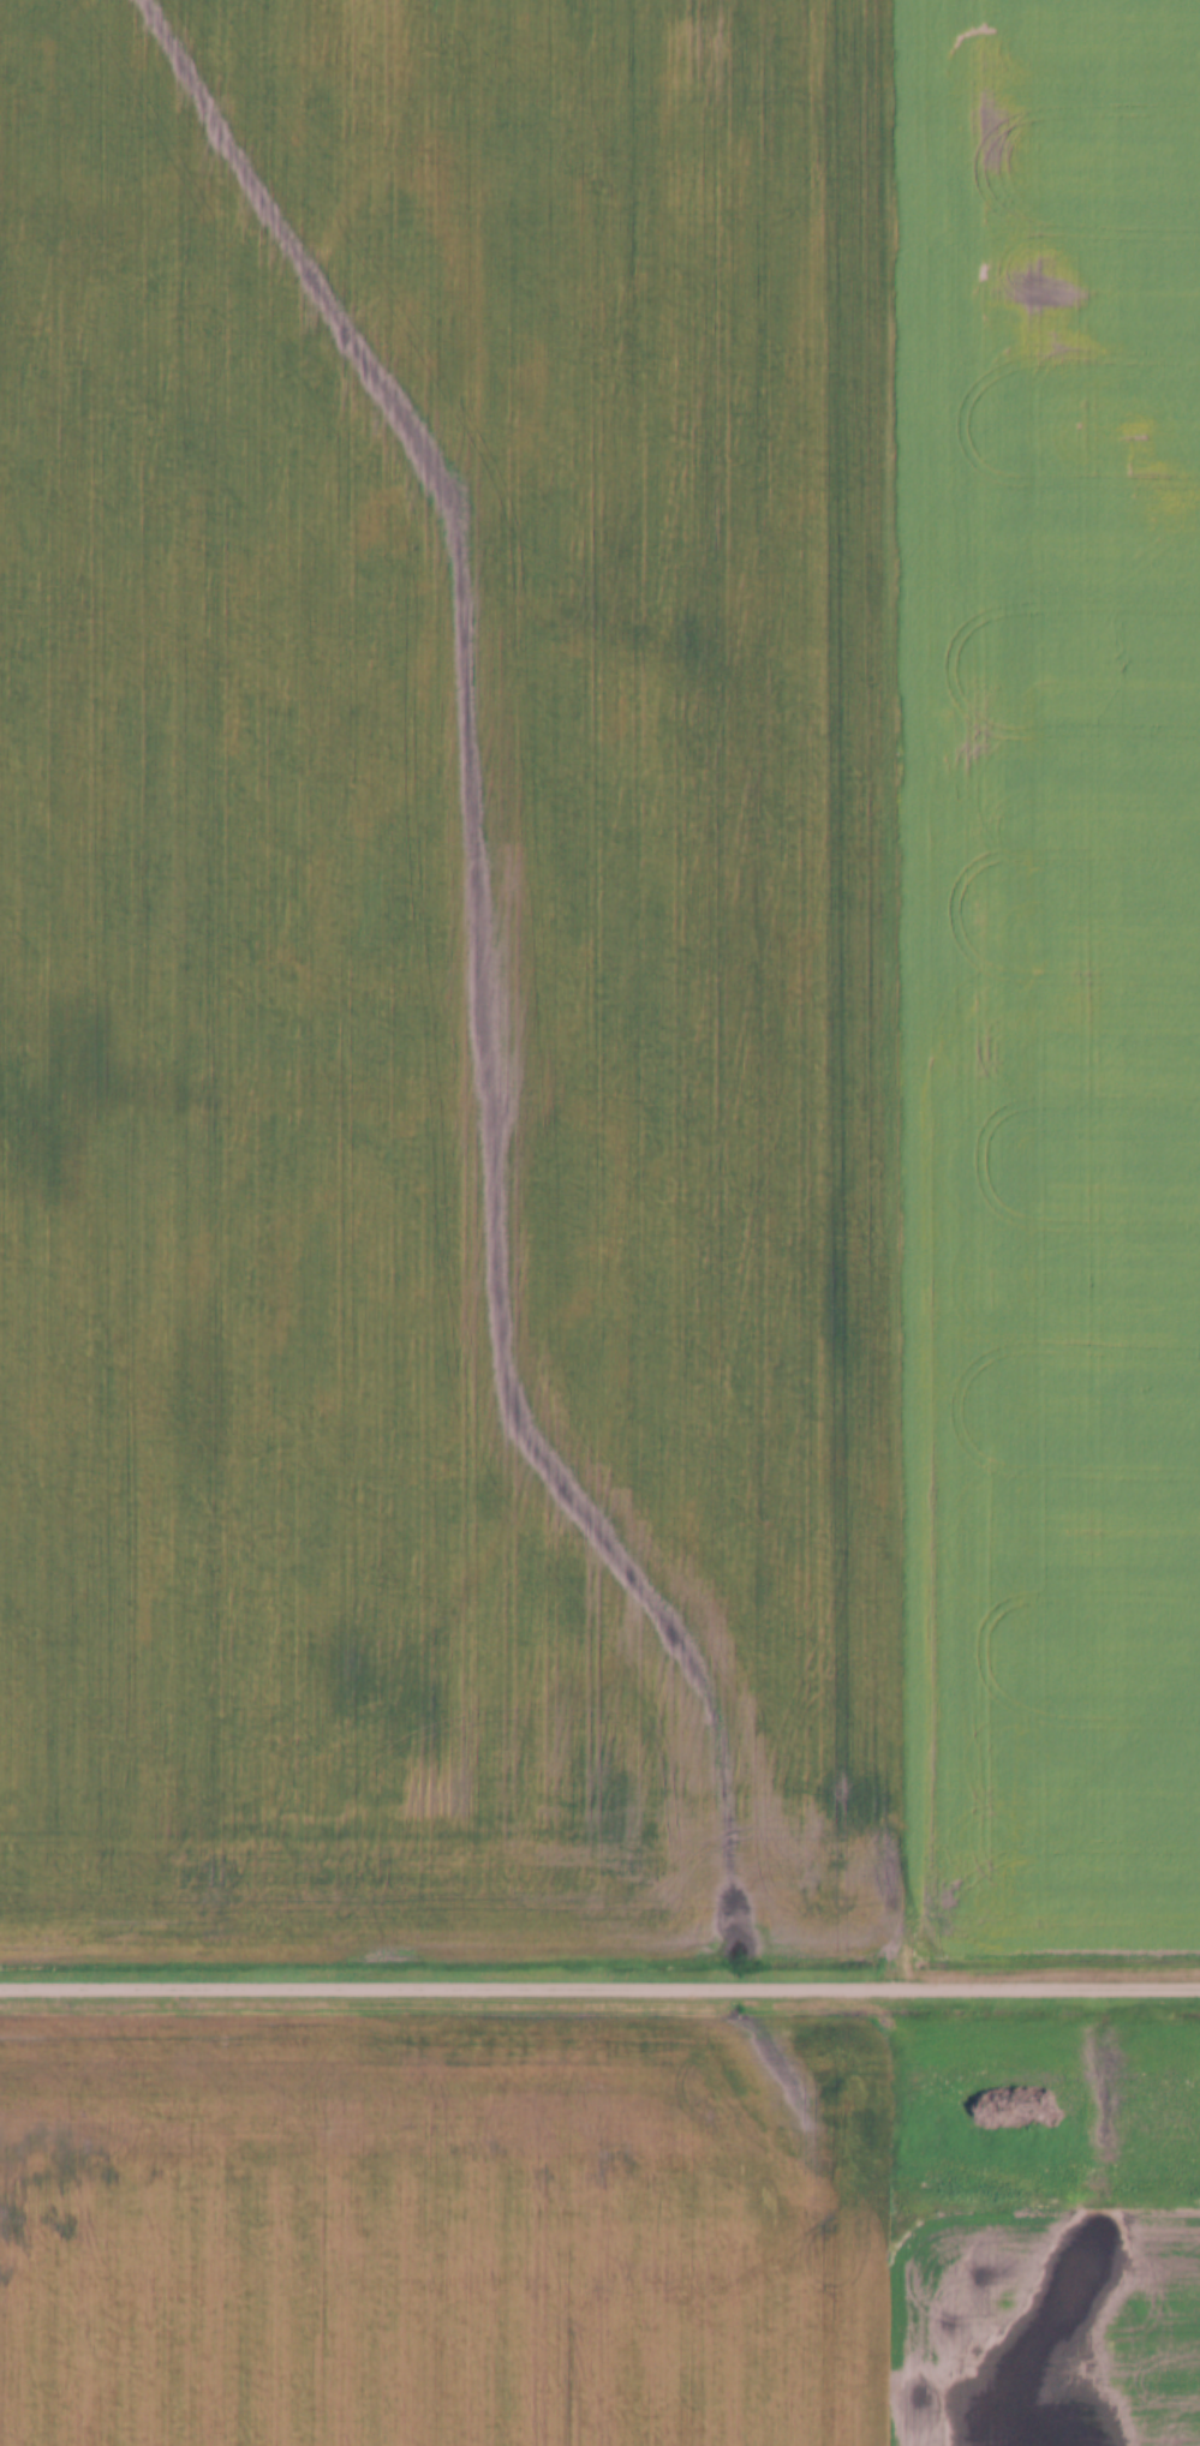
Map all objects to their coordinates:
road: (599, 1991)

